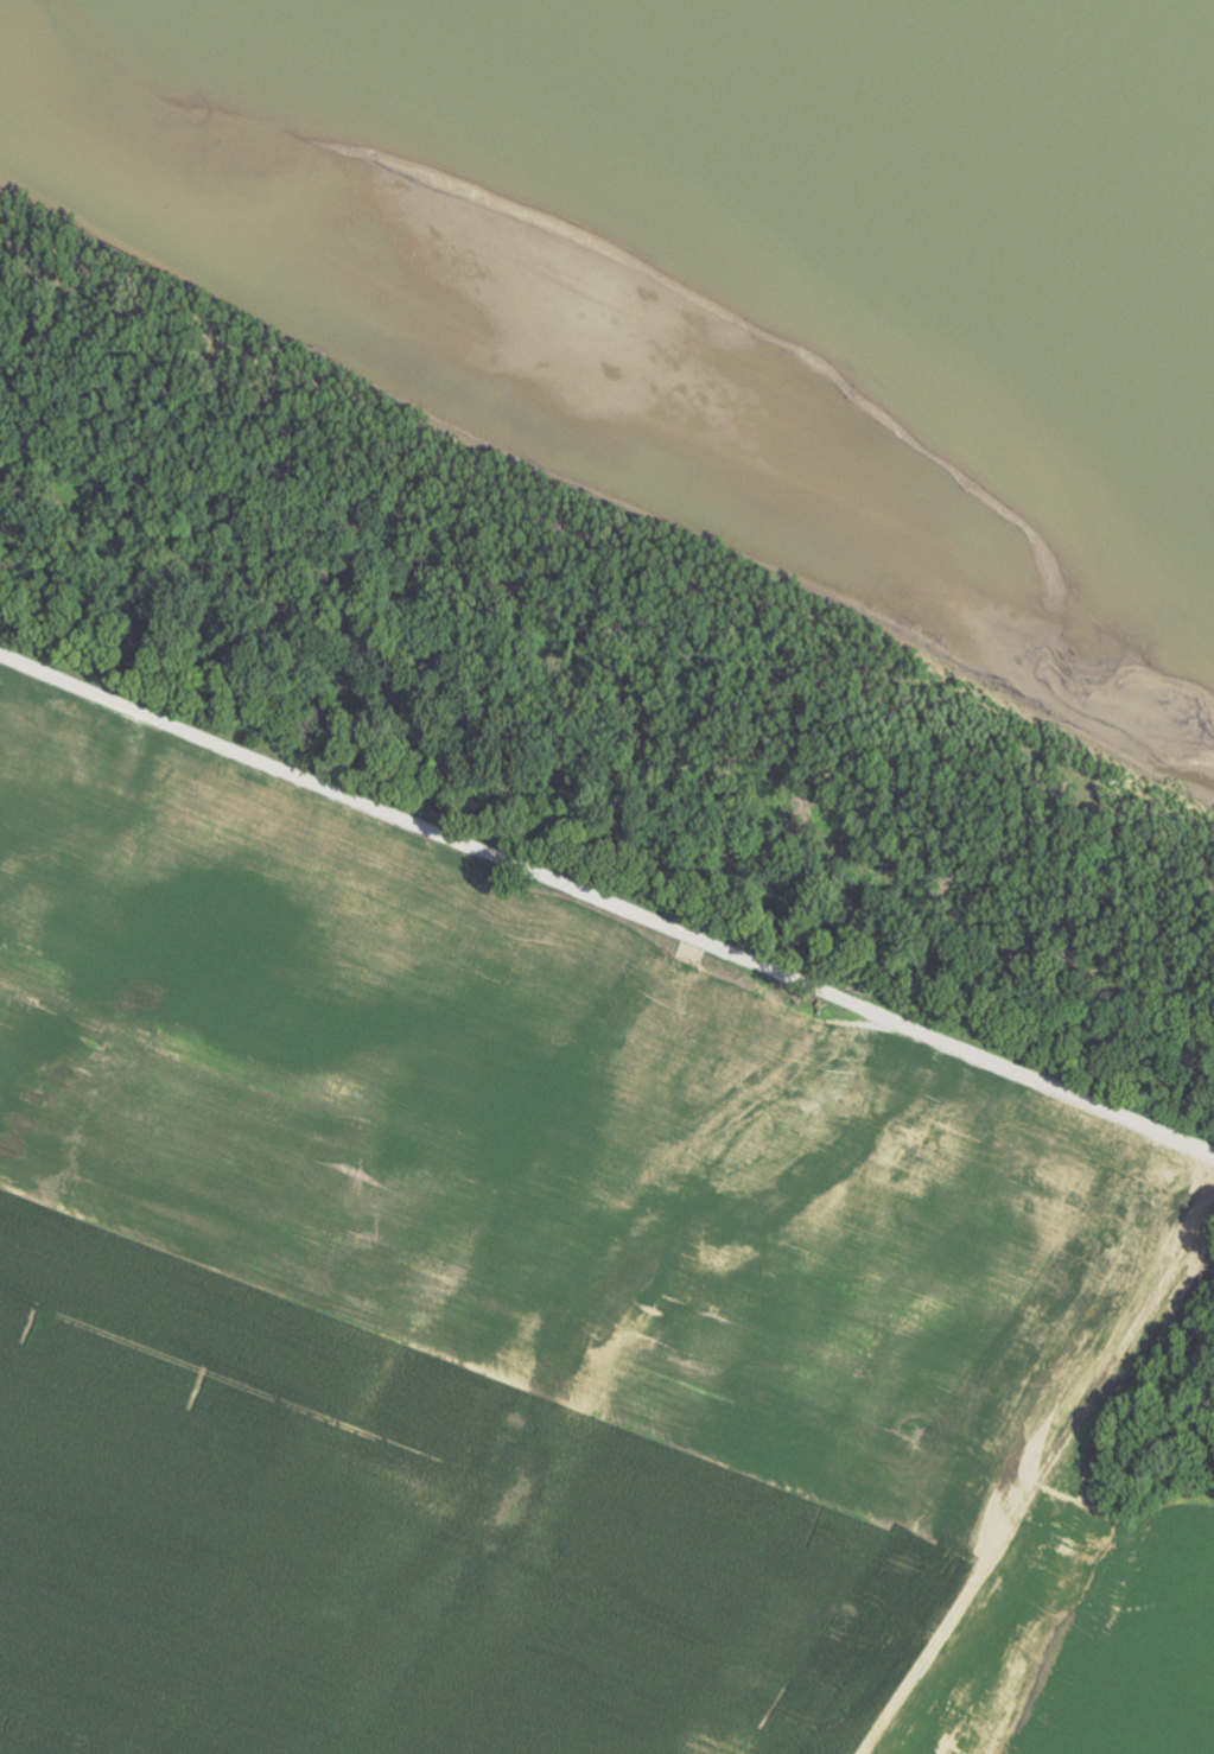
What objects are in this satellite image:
road: (608, 903)

